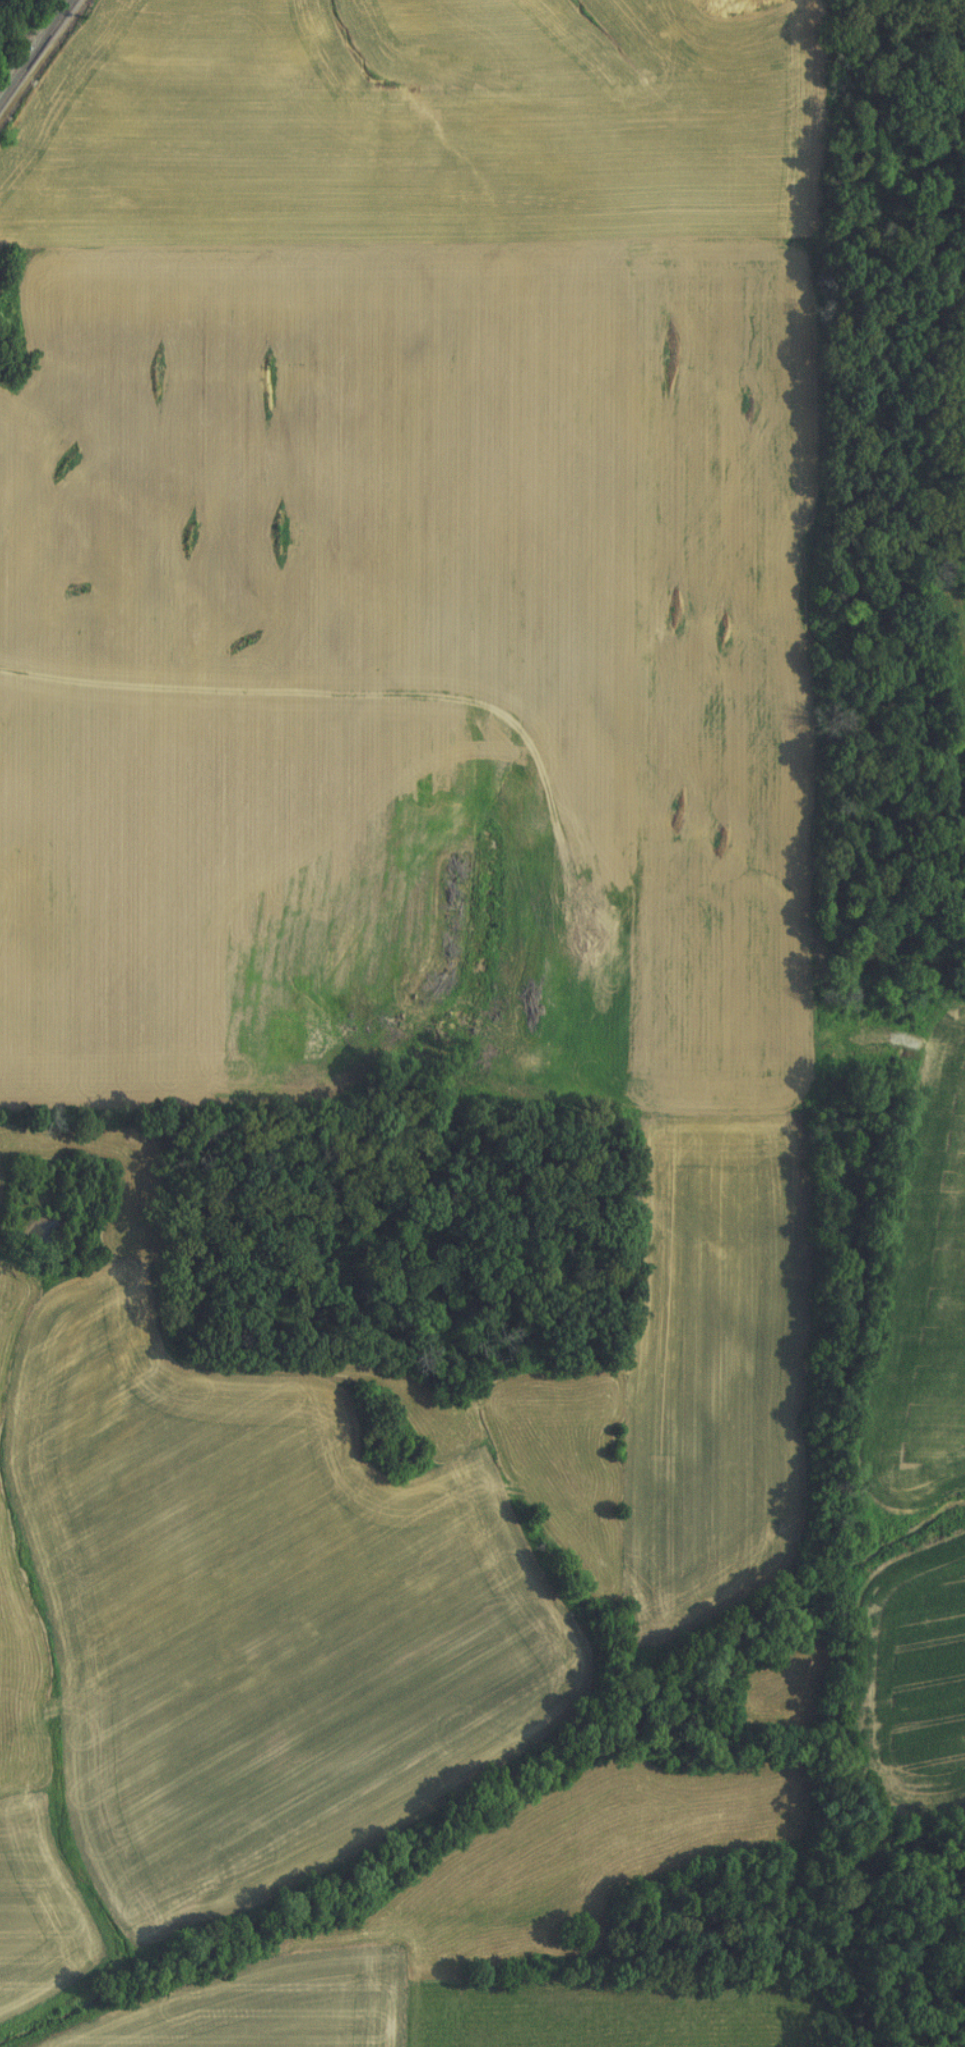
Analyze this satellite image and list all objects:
railway: (36, 49)

